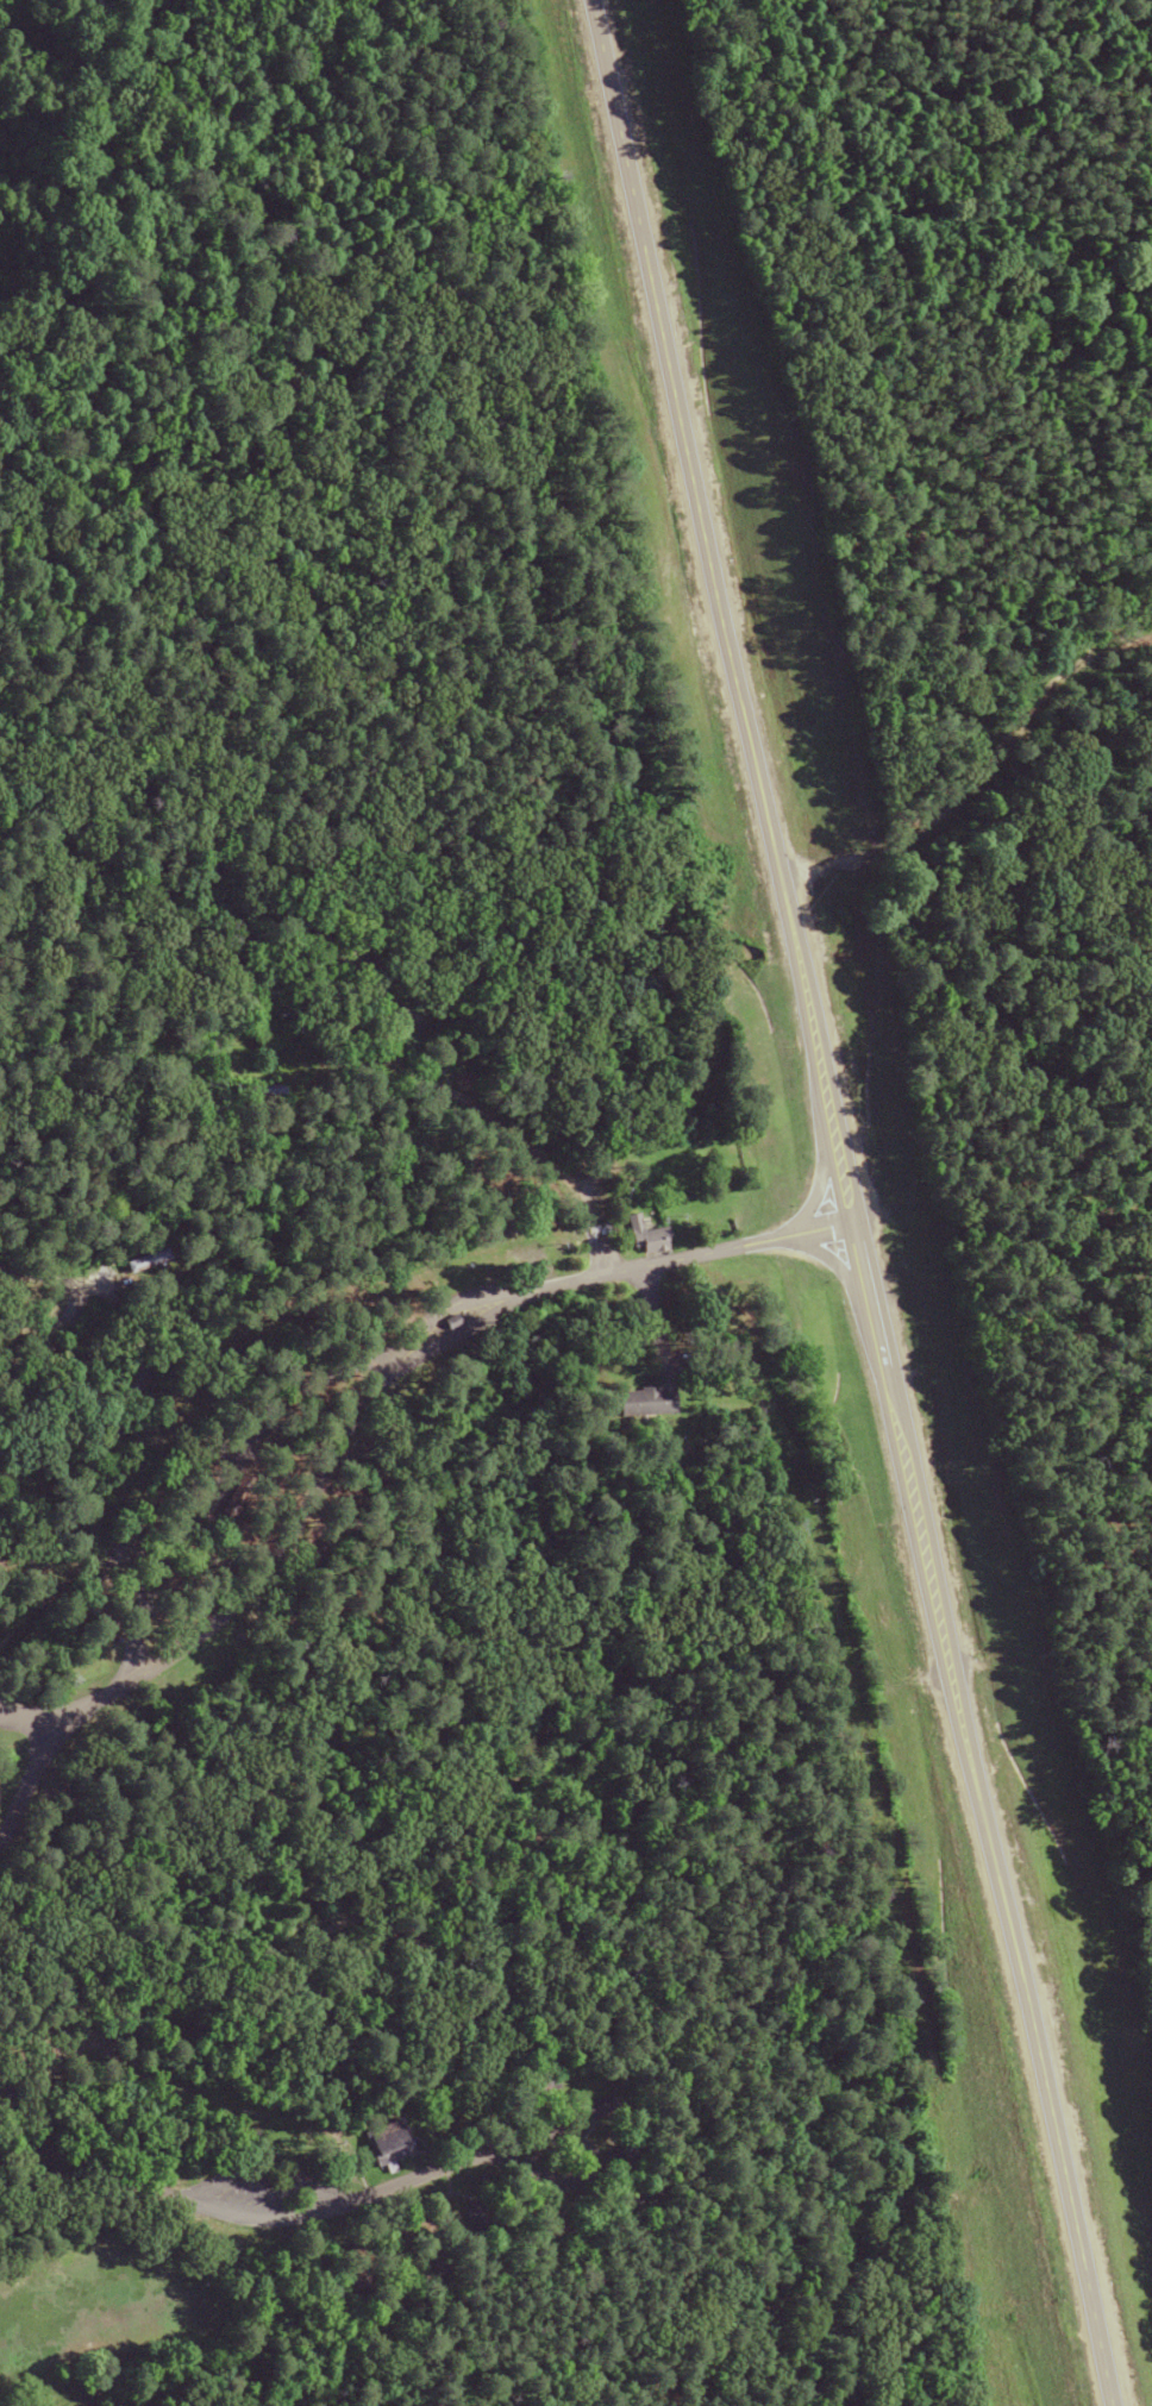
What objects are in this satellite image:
road: (104, 198)
building: (257, 1091)
road: (501, 1109)
road: (822, 1179)
road: (851, 1201)
park: (576, 1203)
building: (639, 1236)
road: (835, 1262)
building: (639, 1402)
road: (358, 1409)
road: (27, 1721)
building: (599, 2109)
building: (386, 2142)
road: (591, 2166)
road: (263, 2176)
road: (243, 2220)

